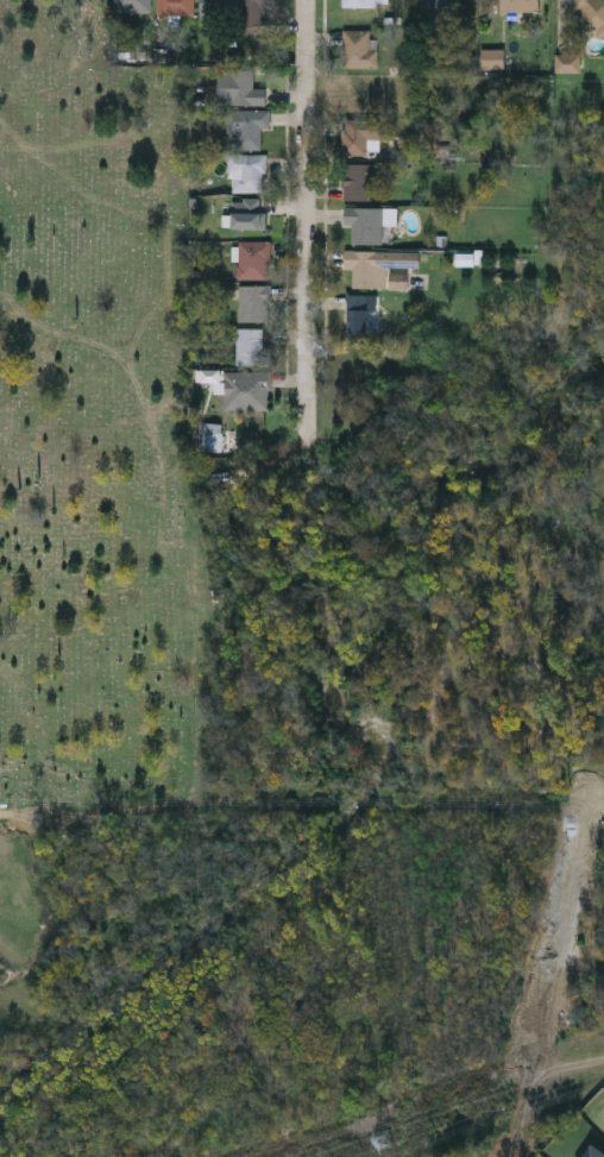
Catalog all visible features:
building: (365, 2)
building: (131, 5)
building: (520, 5)
building: (175, 6)
building: (218, 7)
building: (441, 8)
building: (253, 13)
building: (590, 14)
building: (358, 46)
building: (239, 87)
building: (246, 126)
building: (364, 134)
building: (246, 170)
building: (358, 181)
building: (248, 213)
road: (310, 219)
building: (369, 222)
building: (253, 258)
building: (377, 264)
building: (253, 302)
building: (357, 313)
building: (251, 345)
building: (246, 388)
park: (105, 435)
road: (71, 760)
park: (20, 916)
power tower: (388, 1144)
building: (592, 1151)

